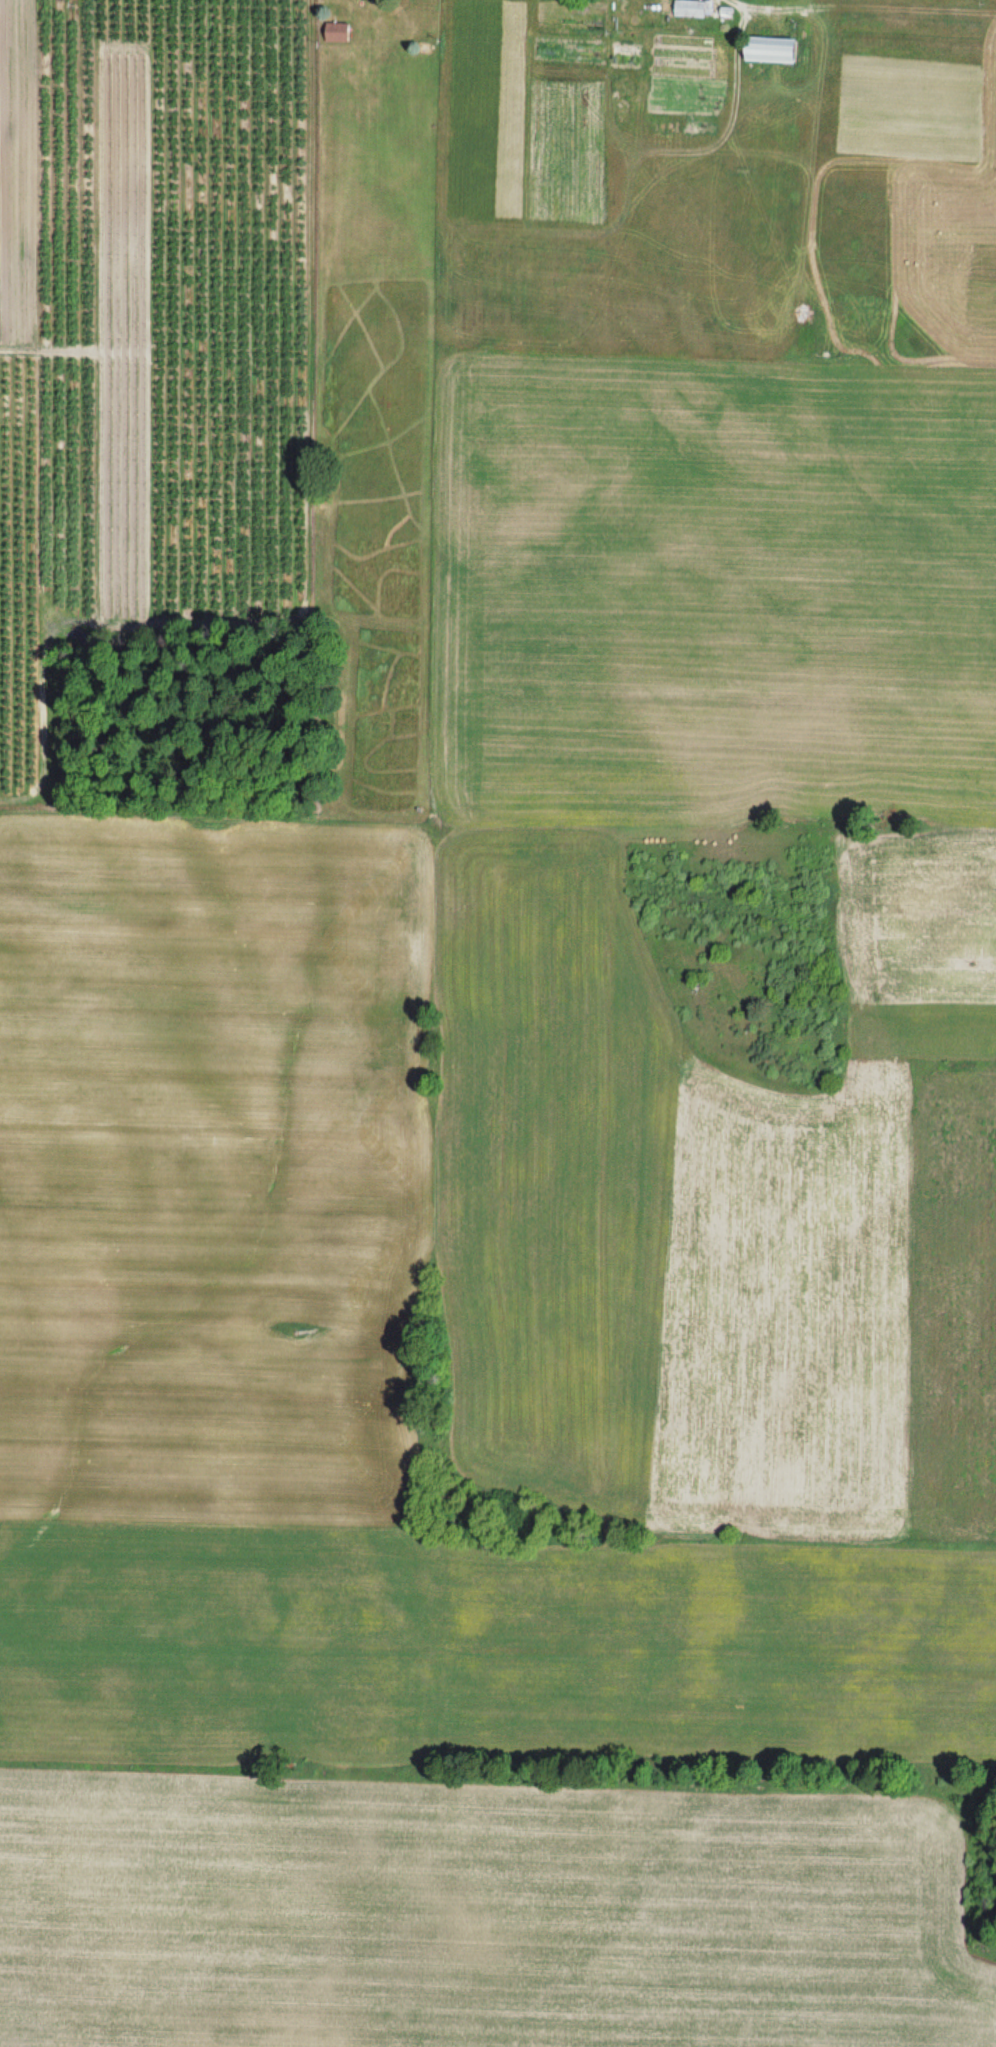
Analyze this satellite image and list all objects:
building: (688, 8)
building: (336, 31)
building: (769, 49)
building: (624, 50)

